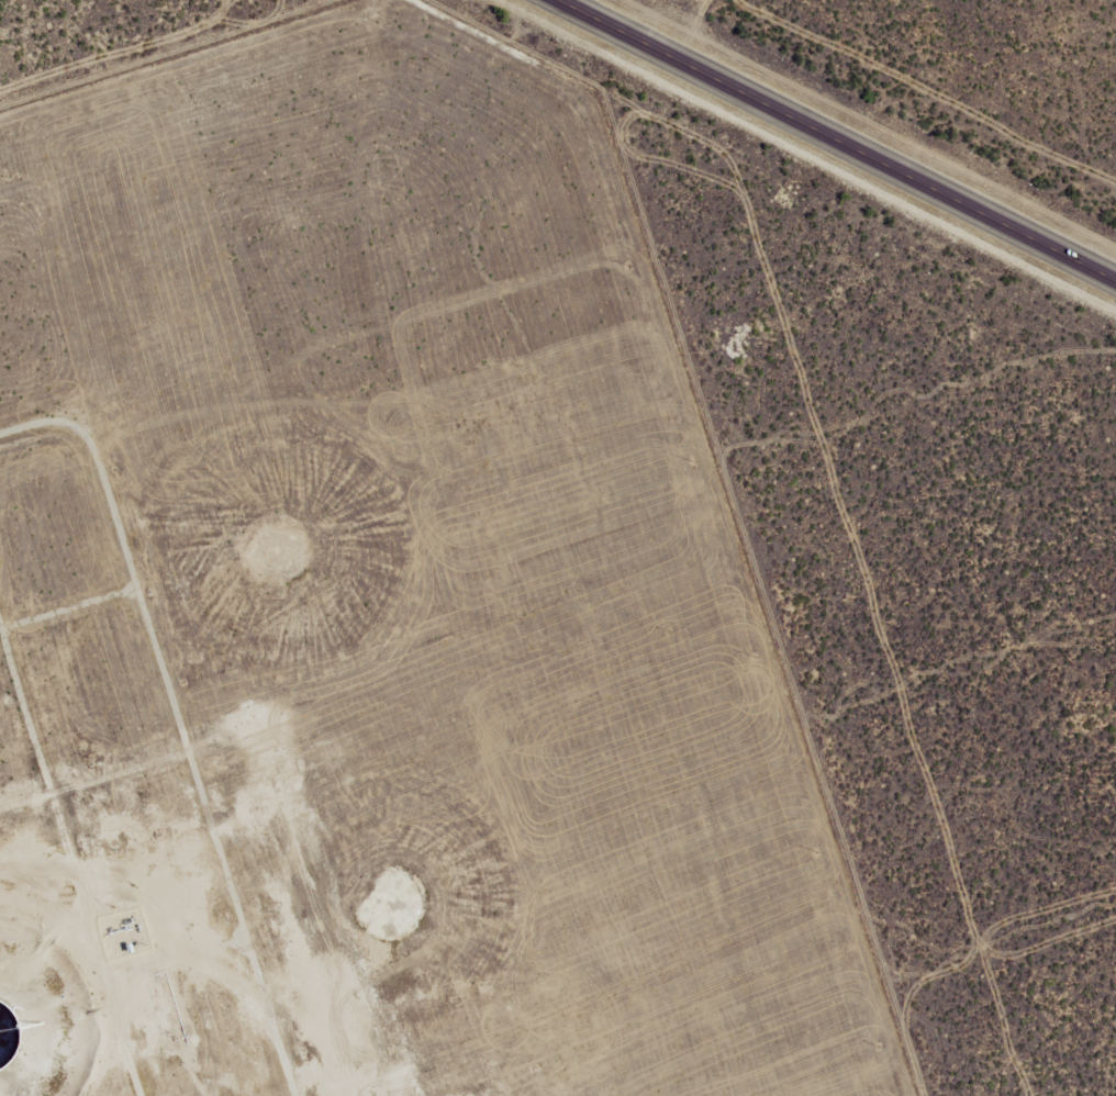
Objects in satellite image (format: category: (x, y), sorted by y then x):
road: (828, 148)
road: (86, 640)
road: (180, 729)
road: (79, 849)
road: (159, 893)
road: (198, 1031)

